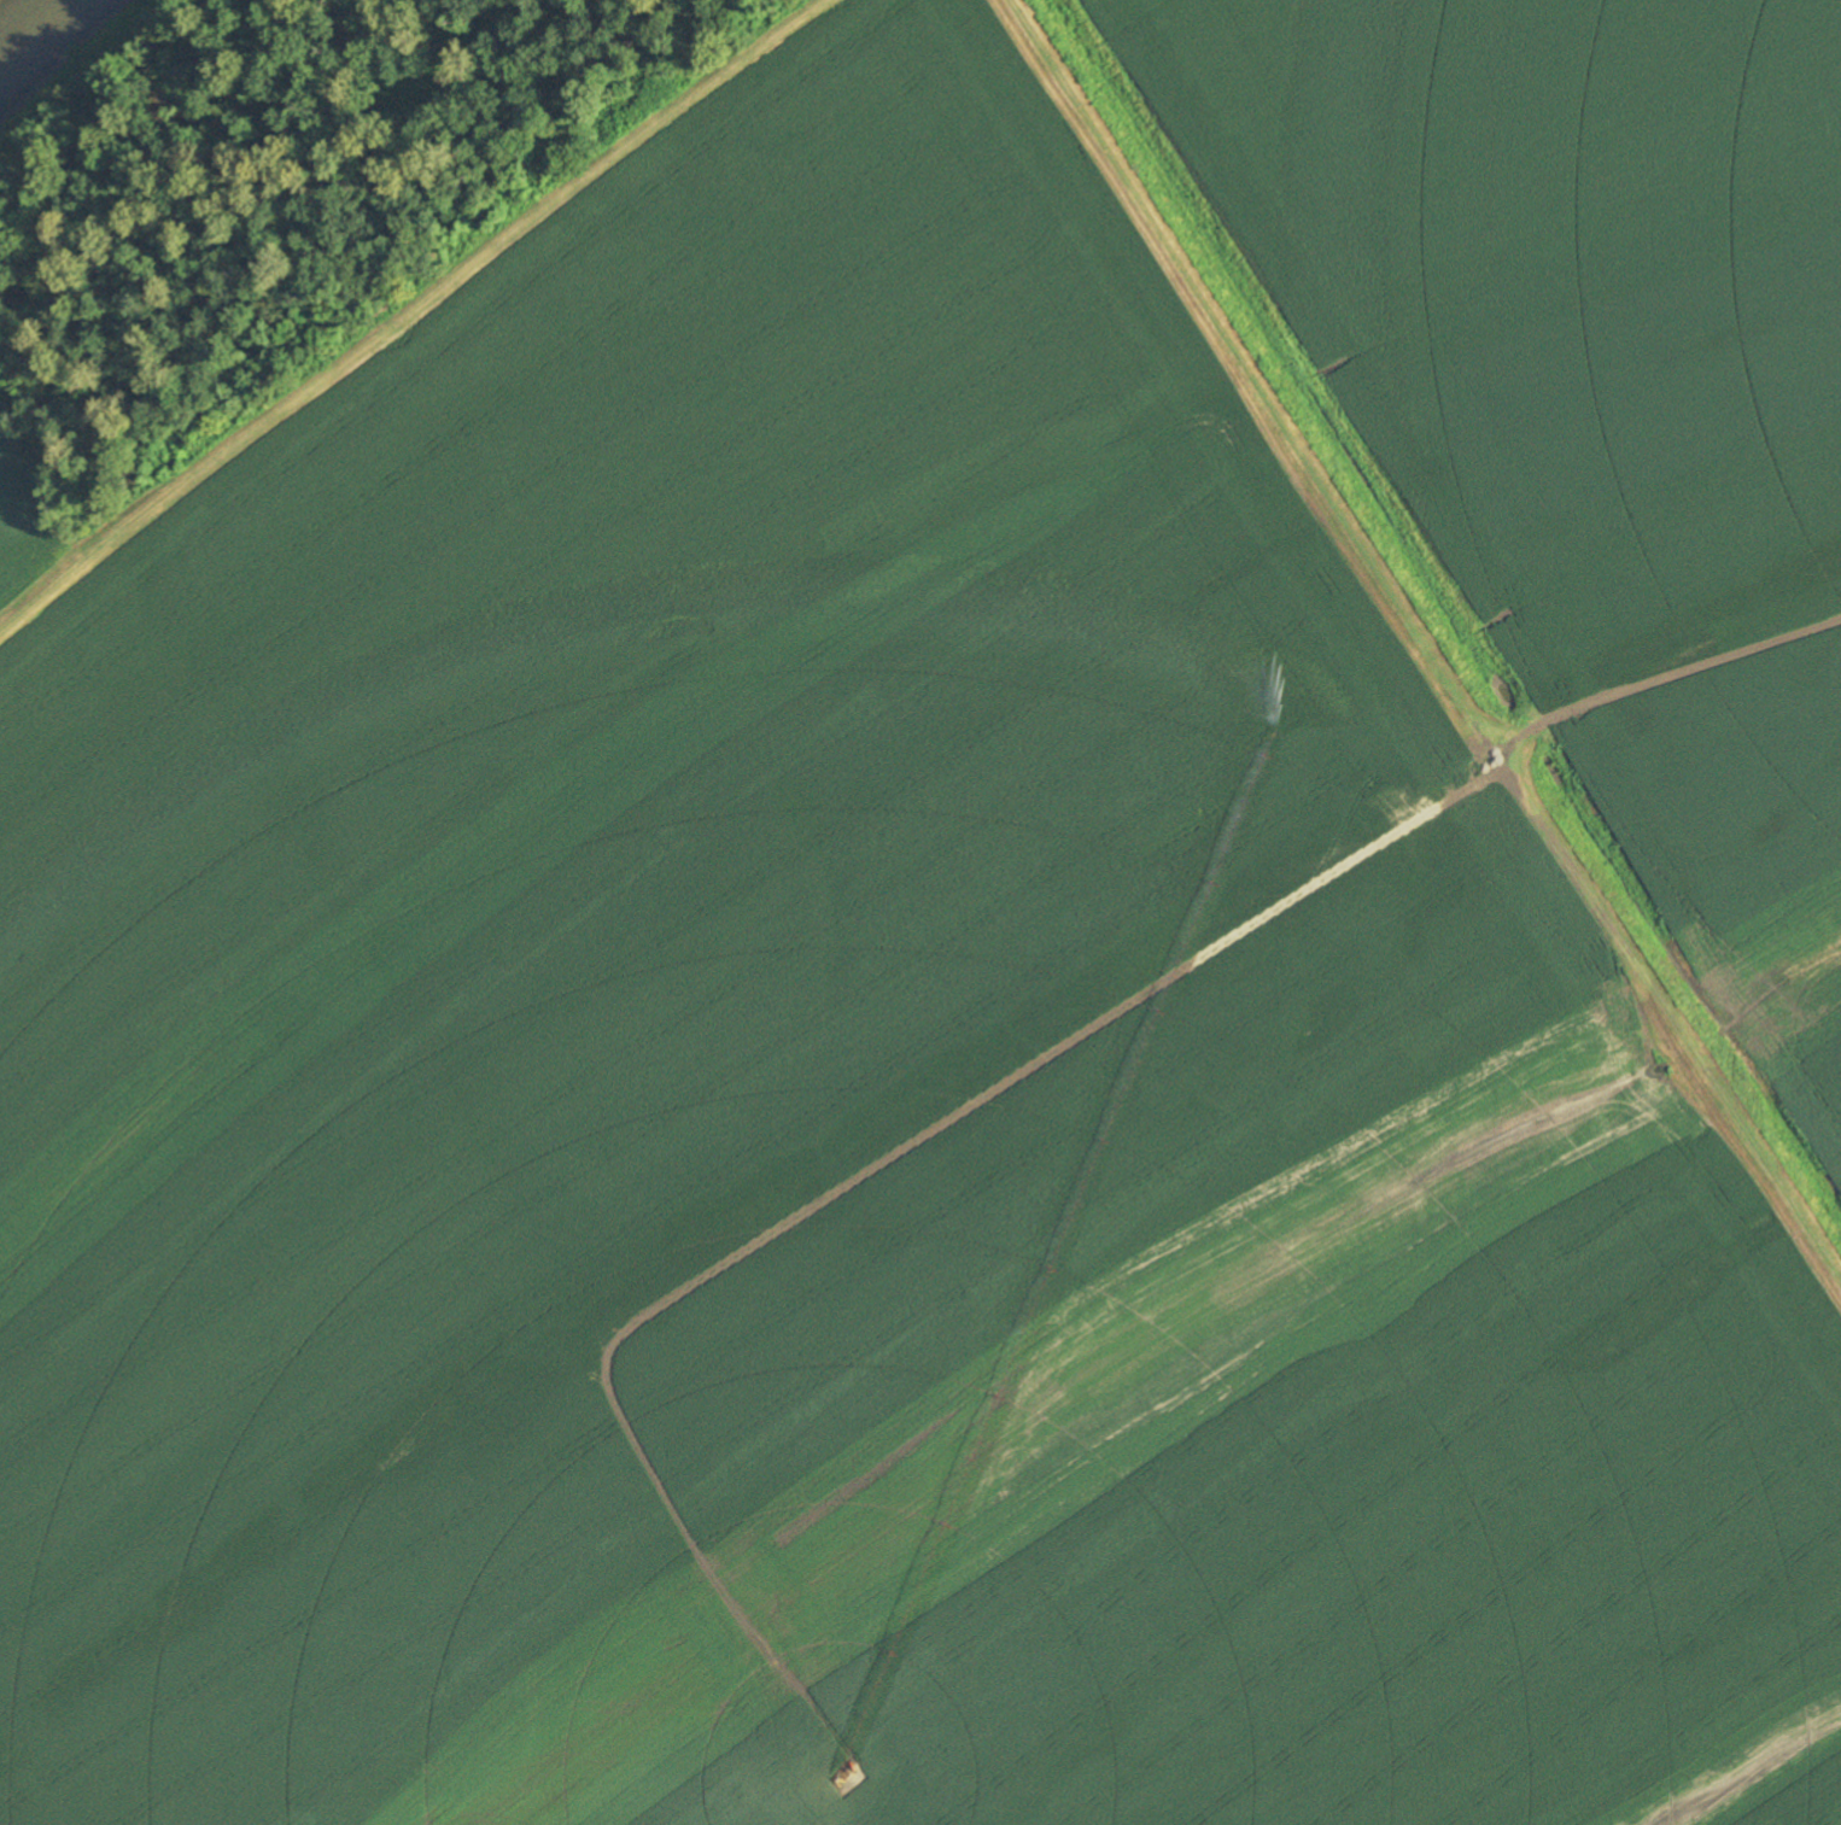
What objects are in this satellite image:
river: (39, 37)
road: (887, 1135)

